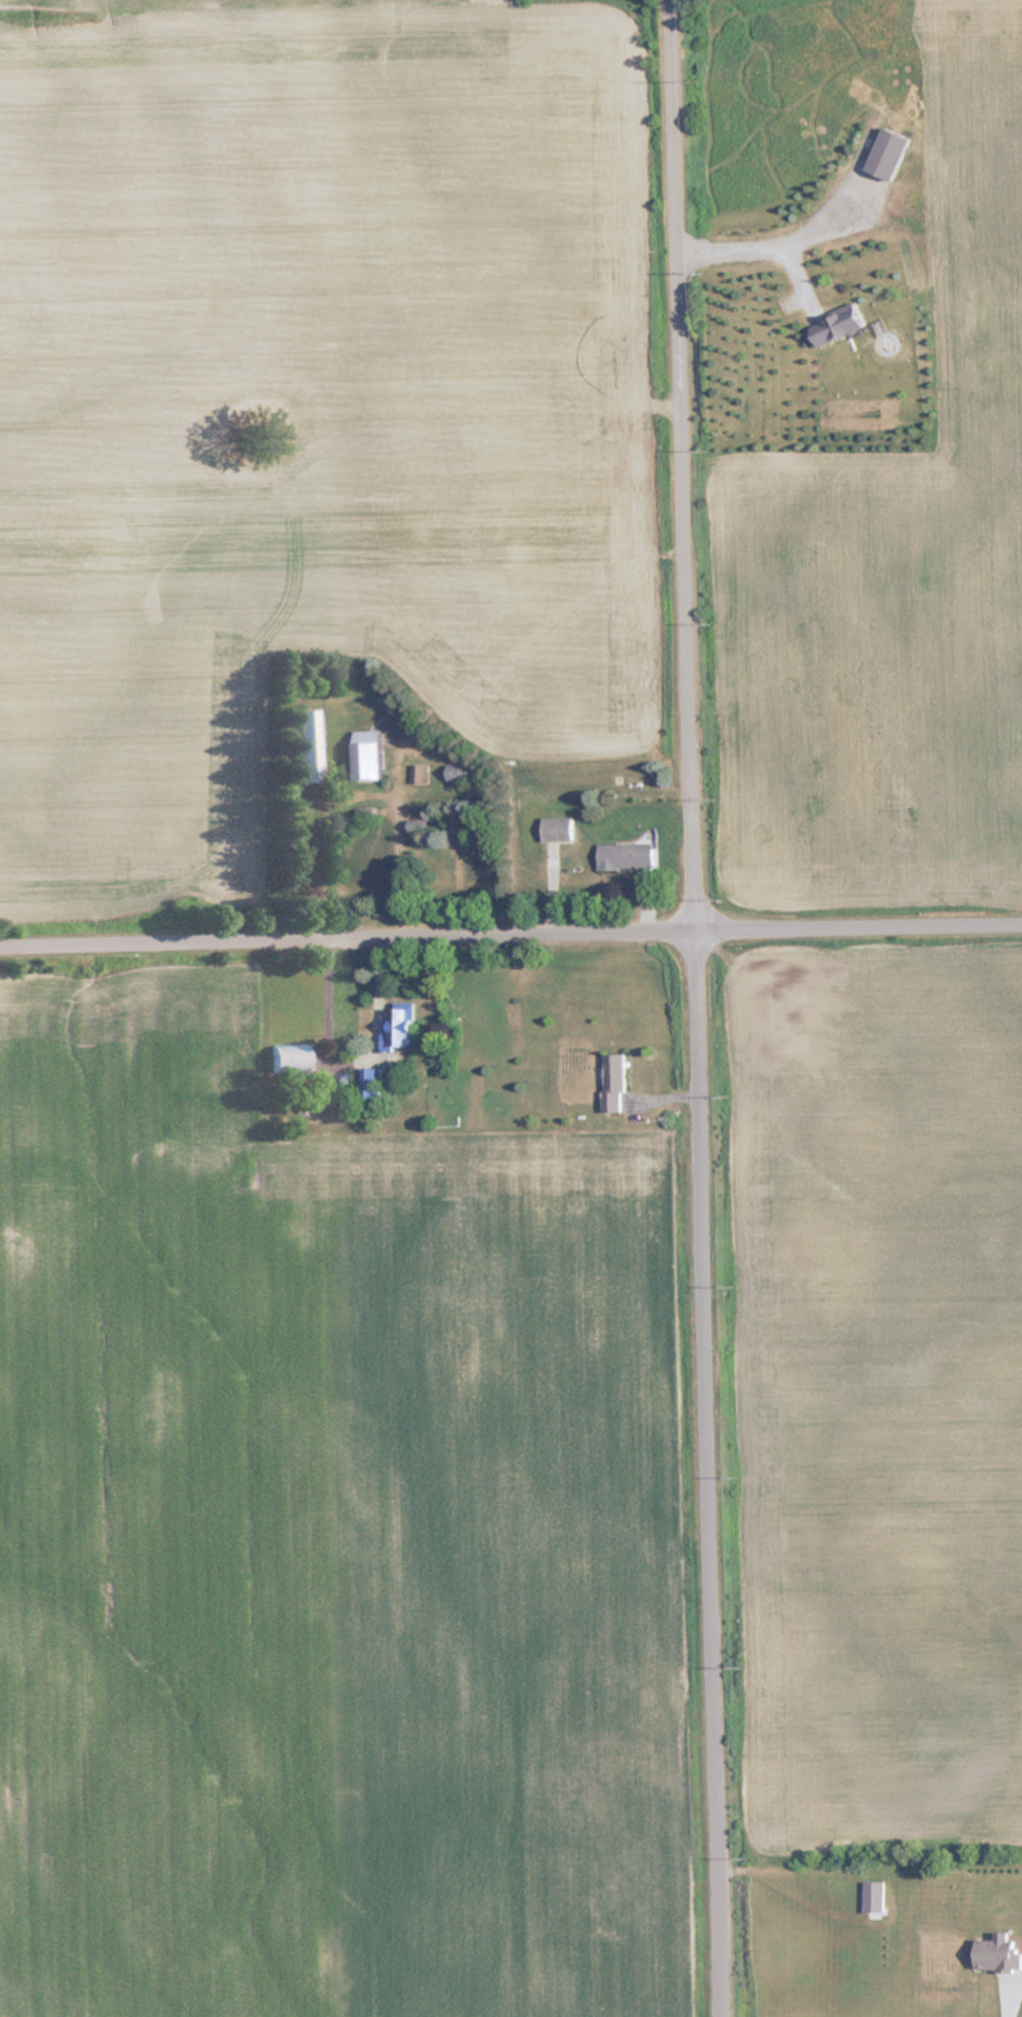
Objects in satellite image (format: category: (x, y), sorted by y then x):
building: (887, 154)
road: (770, 242)
building: (837, 326)
building: (307, 745)
building: (366, 754)
building: (460, 771)
building: (418, 774)
building: (416, 826)
building: (555, 828)
building: (624, 855)
building: (358, 864)
building: (473, 865)
road: (510, 937)
road: (699, 1008)
building: (397, 1027)
building: (287, 1057)
building: (371, 1082)
building: (612, 1082)
building: (996, 1955)
road: (1000, 1996)

